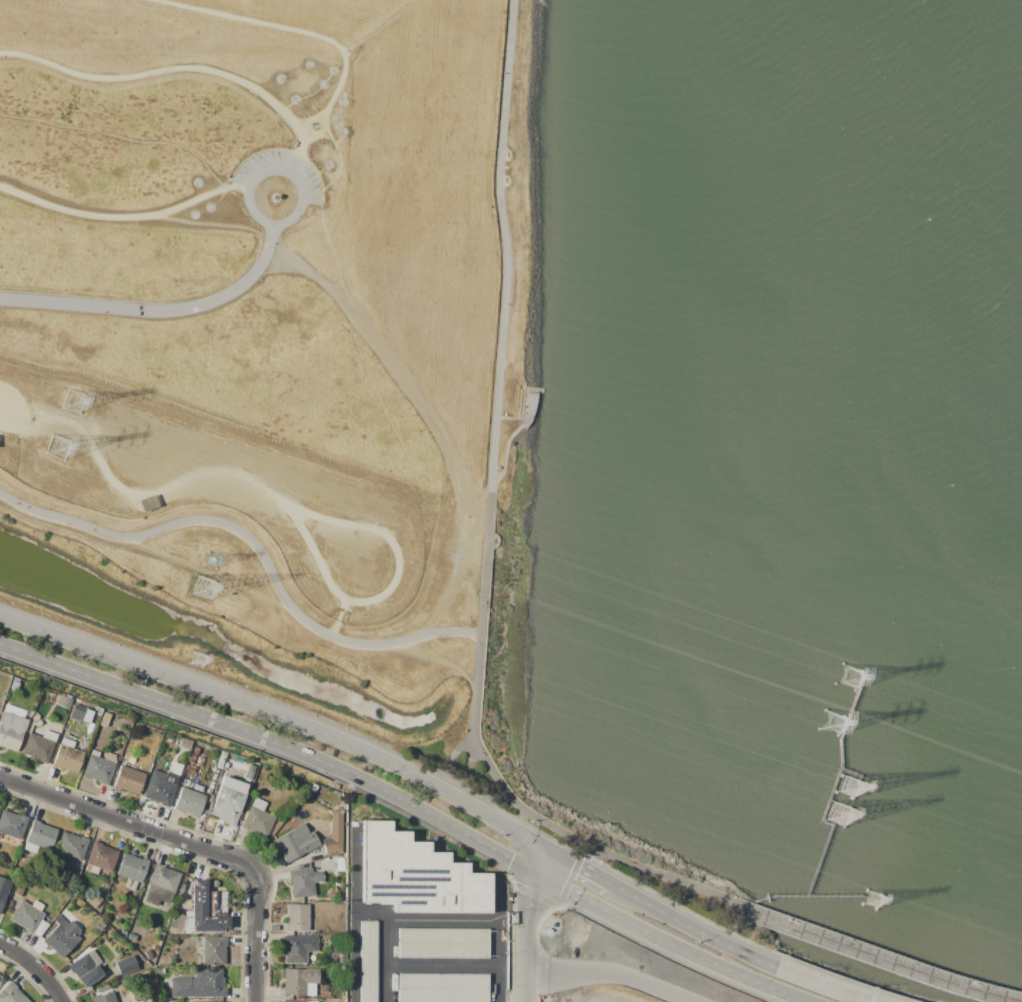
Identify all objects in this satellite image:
road: (545, 3)
road: (377, 26)
road: (301, 32)
road: (55, 67)
road: (325, 68)
road: (236, 81)
road: (337, 115)
road: (323, 123)
road: (313, 135)
road: (120, 137)
road: (338, 161)
road: (277, 172)
road: (126, 217)
road: (210, 224)
road: (330, 247)
road: (156, 309)
park: (272, 334)
road: (403, 379)
power tower: (76, 403)
road: (509, 418)
road: (514, 430)
power tower: (62, 452)
road: (485, 536)
road: (256, 547)
power tower: (212, 565)
power tower: (201, 595)
power tower: (201, 661)
power tower: (854, 678)
road: (282, 717)
power tower: (832, 719)
building: (11, 730)
road: (277, 743)
building: (38, 748)
building: (68, 757)
road: (449, 759)
building: (99, 769)
road: (466, 769)
building: (129, 779)
pier: (831, 786)
power tower: (852, 789)
building: (159, 790)
building: (229, 800)
building: (189, 801)
power tower: (843, 817)
building: (258, 818)
building: (12, 824)
building: (334, 833)
building: (39, 837)
road: (557, 841)
building: (297, 842)
road: (188, 843)
building: (71, 846)
building: (101, 857)
building: (132, 868)
road: (585, 868)
building: (416, 875)
road: (570, 881)
building: (304, 882)
building: (161, 885)
road: (516, 886)
building: (3, 889)
pier: (802, 895)
road: (539, 897)
building: (92, 900)
power tower: (876, 903)
road: (681, 905)
building: (208, 909)
building: (26, 916)
building: (297, 918)
road: (440, 919)
building: (175, 922)
road: (526, 923)
road: (697, 930)
road: (513, 936)
building: (62, 937)
road: (632, 940)
road: (671, 942)
building: (442, 943)
building: (298, 948)
building: (214, 950)
road: (880, 959)
building: (367, 962)
road: (440, 965)
building: (126, 966)
road: (36, 967)
building: (86, 968)
road: (611, 973)
road: (847, 980)
building: (300, 981)
building: (199, 984)
road: (823, 985)
road: (535, 986)
building: (442, 988)
building: (12, 994)
building: (104, 998)
road: (511, 1000)
building: (207, 1001)
building: (295, 1001)

